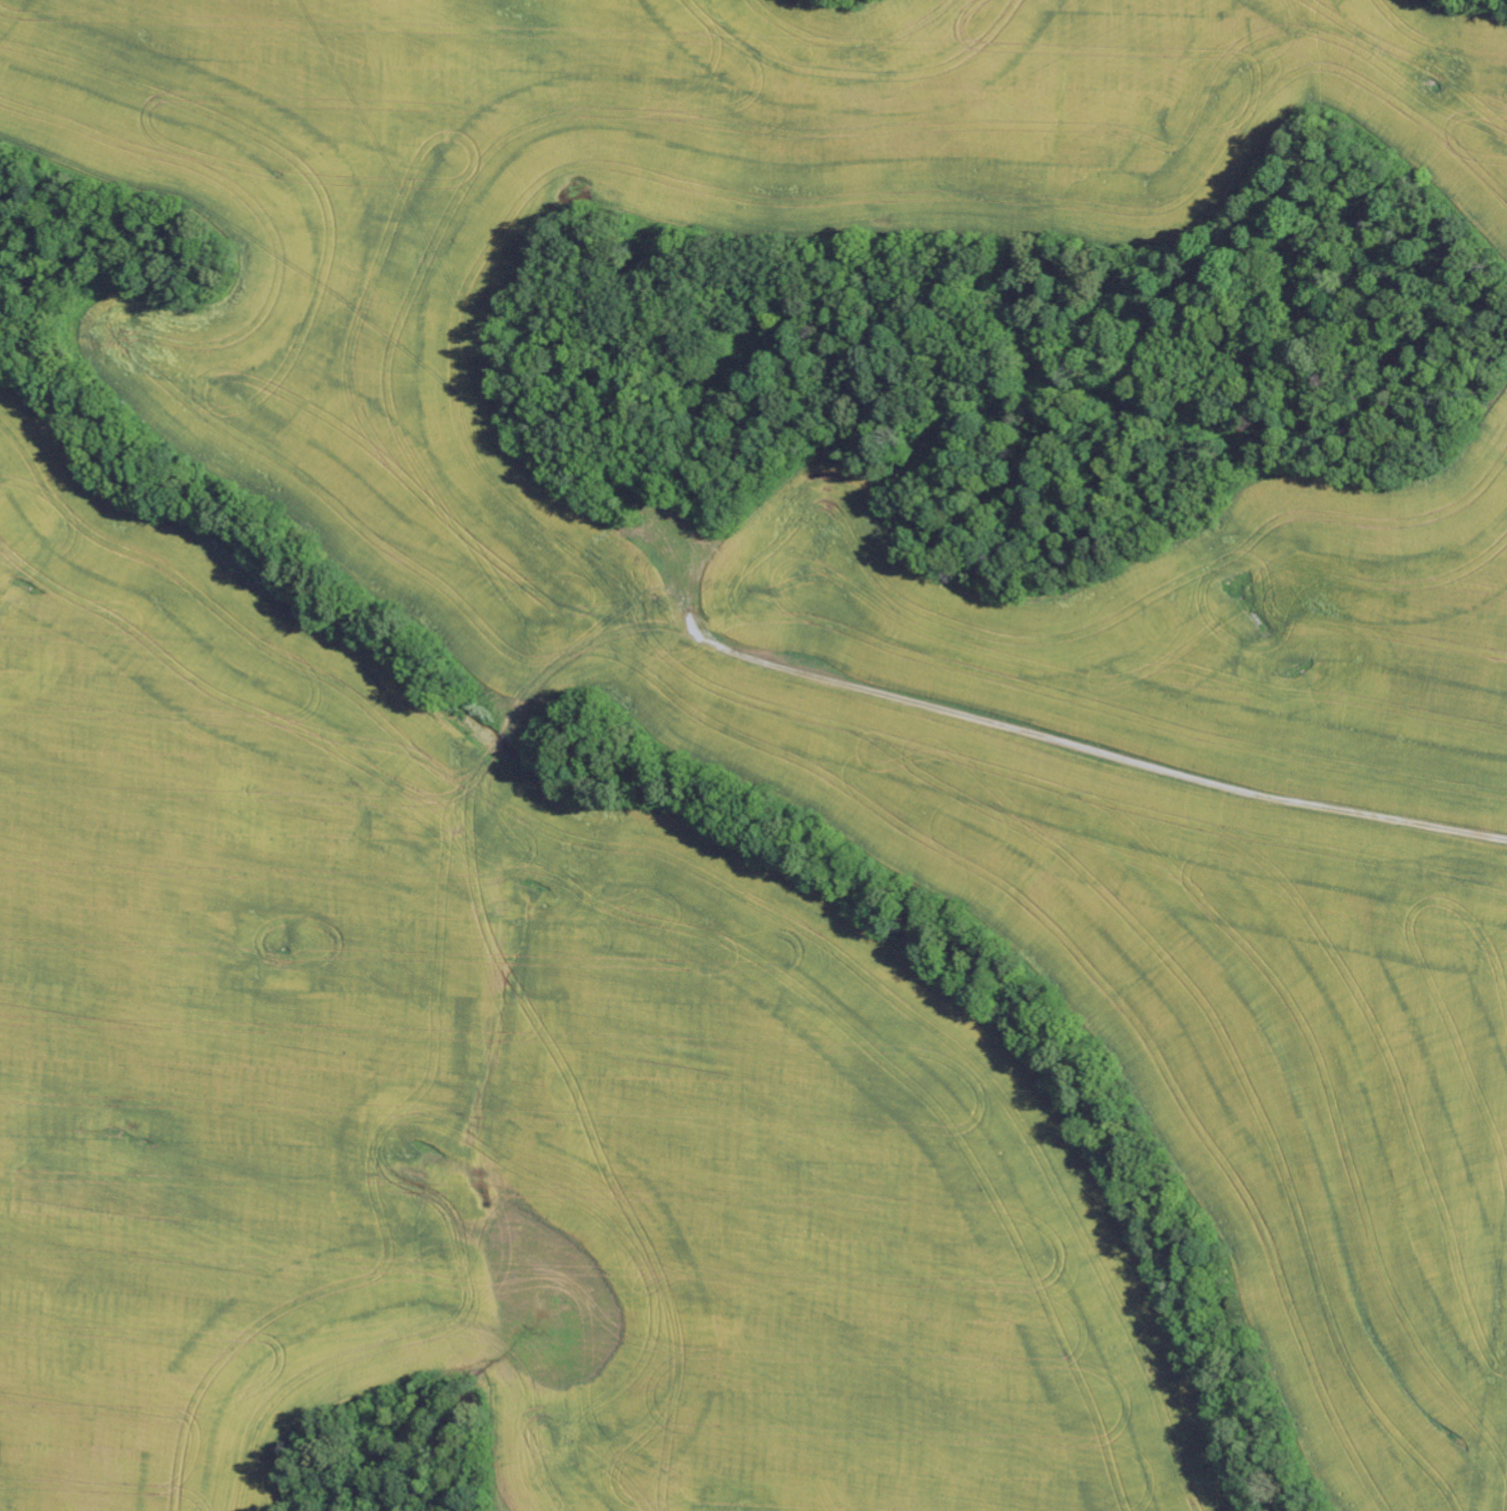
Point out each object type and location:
road: (567, 353)
road: (960, 739)

